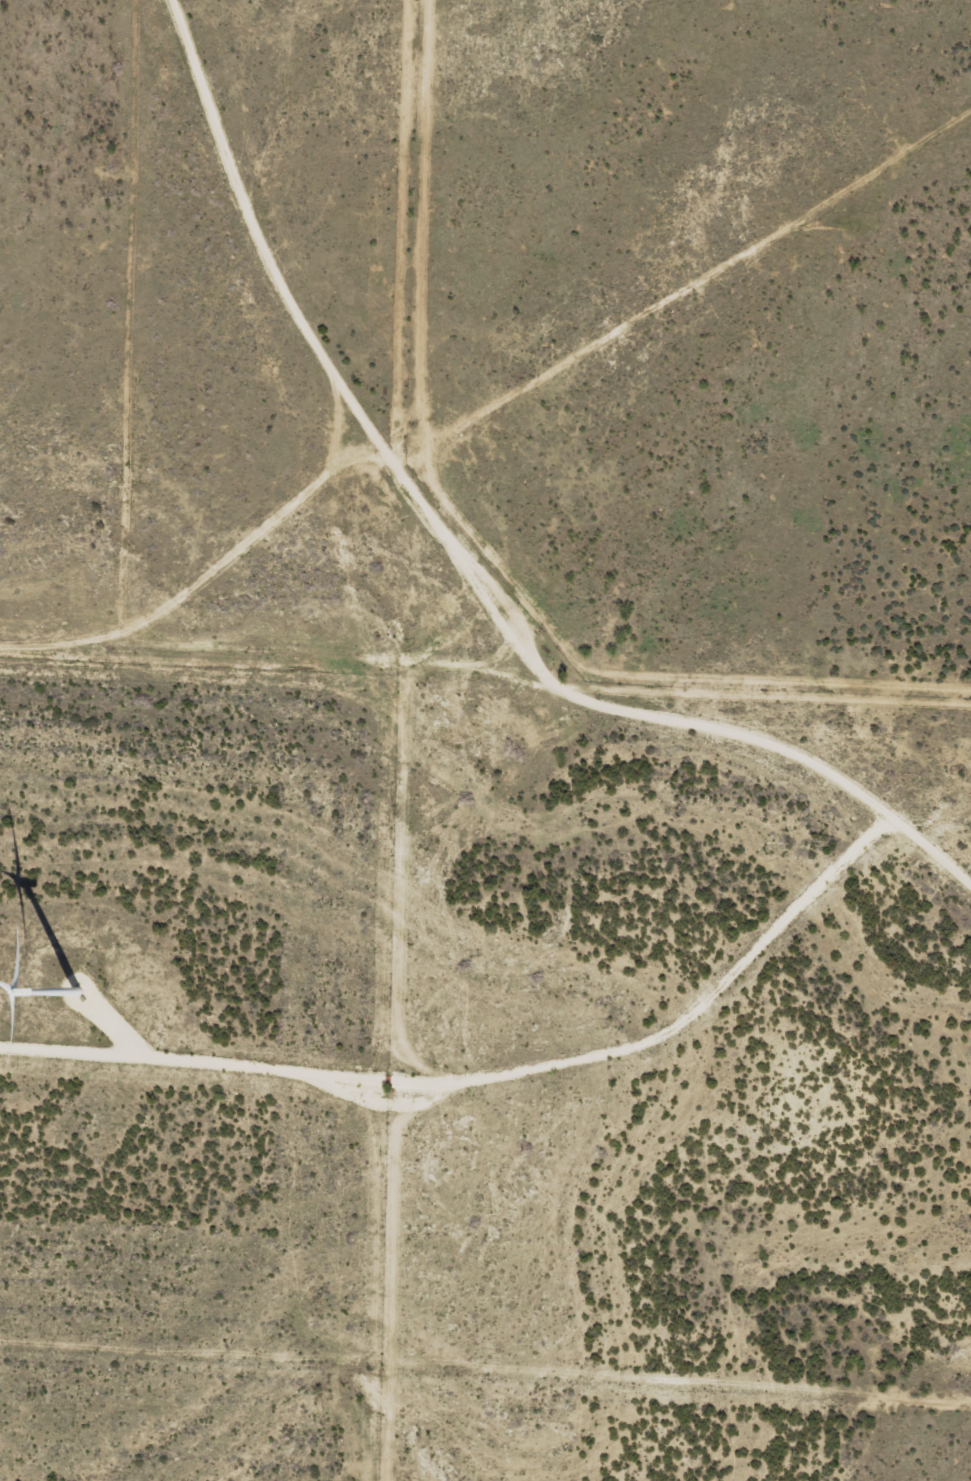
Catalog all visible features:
road: (256, 233)
road: (233, 543)
road: (272, 678)
road: (636, 714)
wind turbine: (87, 983)
road: (490, 1076)
road: (373, 1287)

